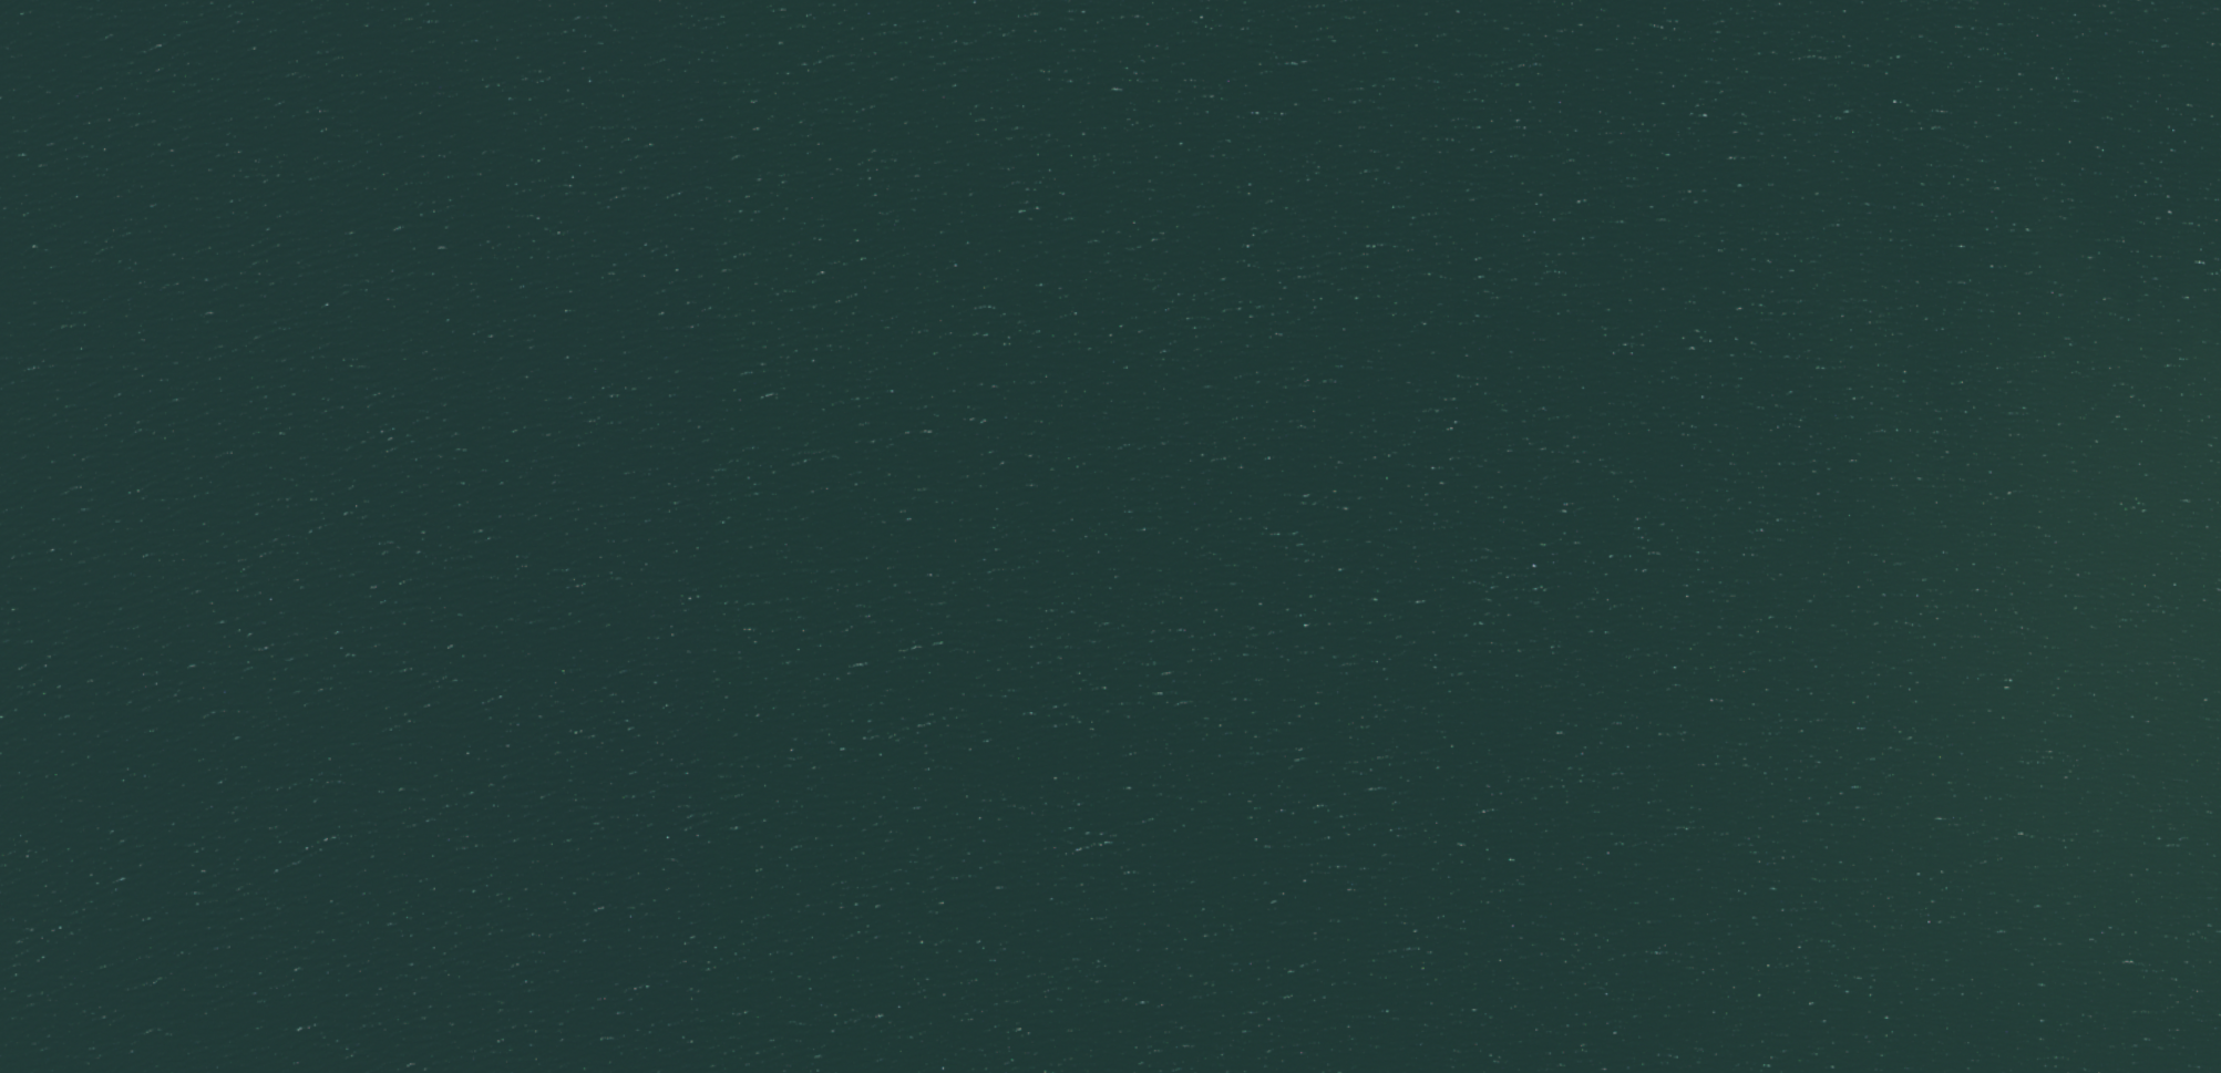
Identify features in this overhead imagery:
river: (554, 525)

